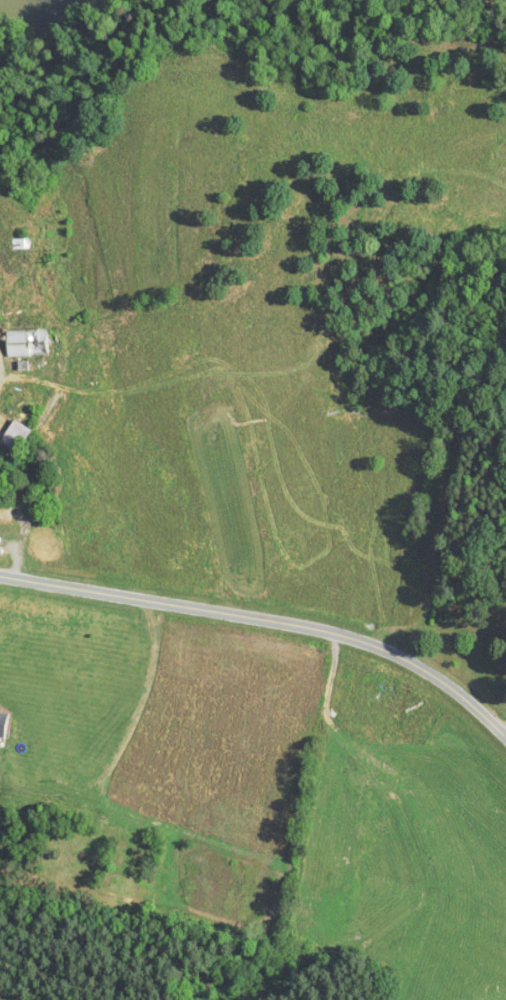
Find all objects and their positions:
river: (16, 6)
river: (2, 12)
building: (16, 243)
building: (22, 342)
building: (11, 435)
road: (21, 528)
road: (268, 620)

